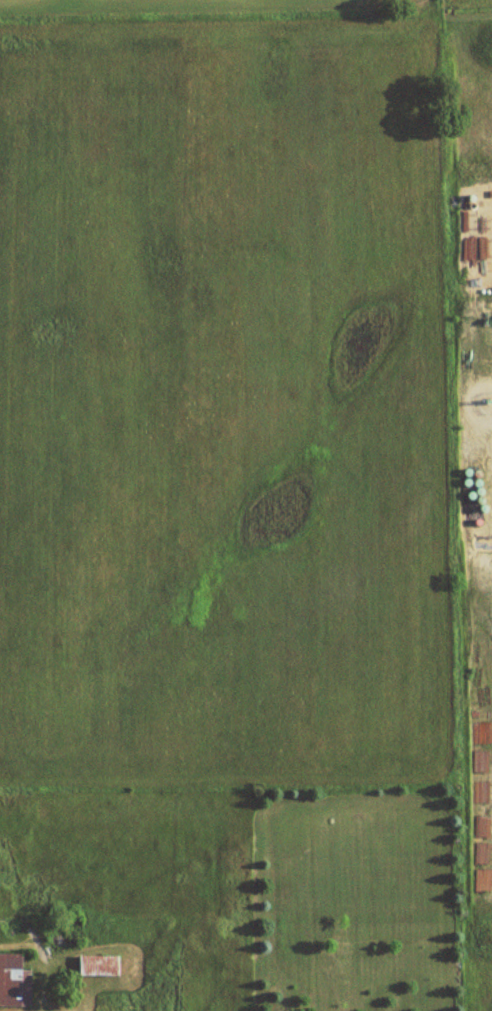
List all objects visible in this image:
building: (95, 965)
building: (16, 979)

